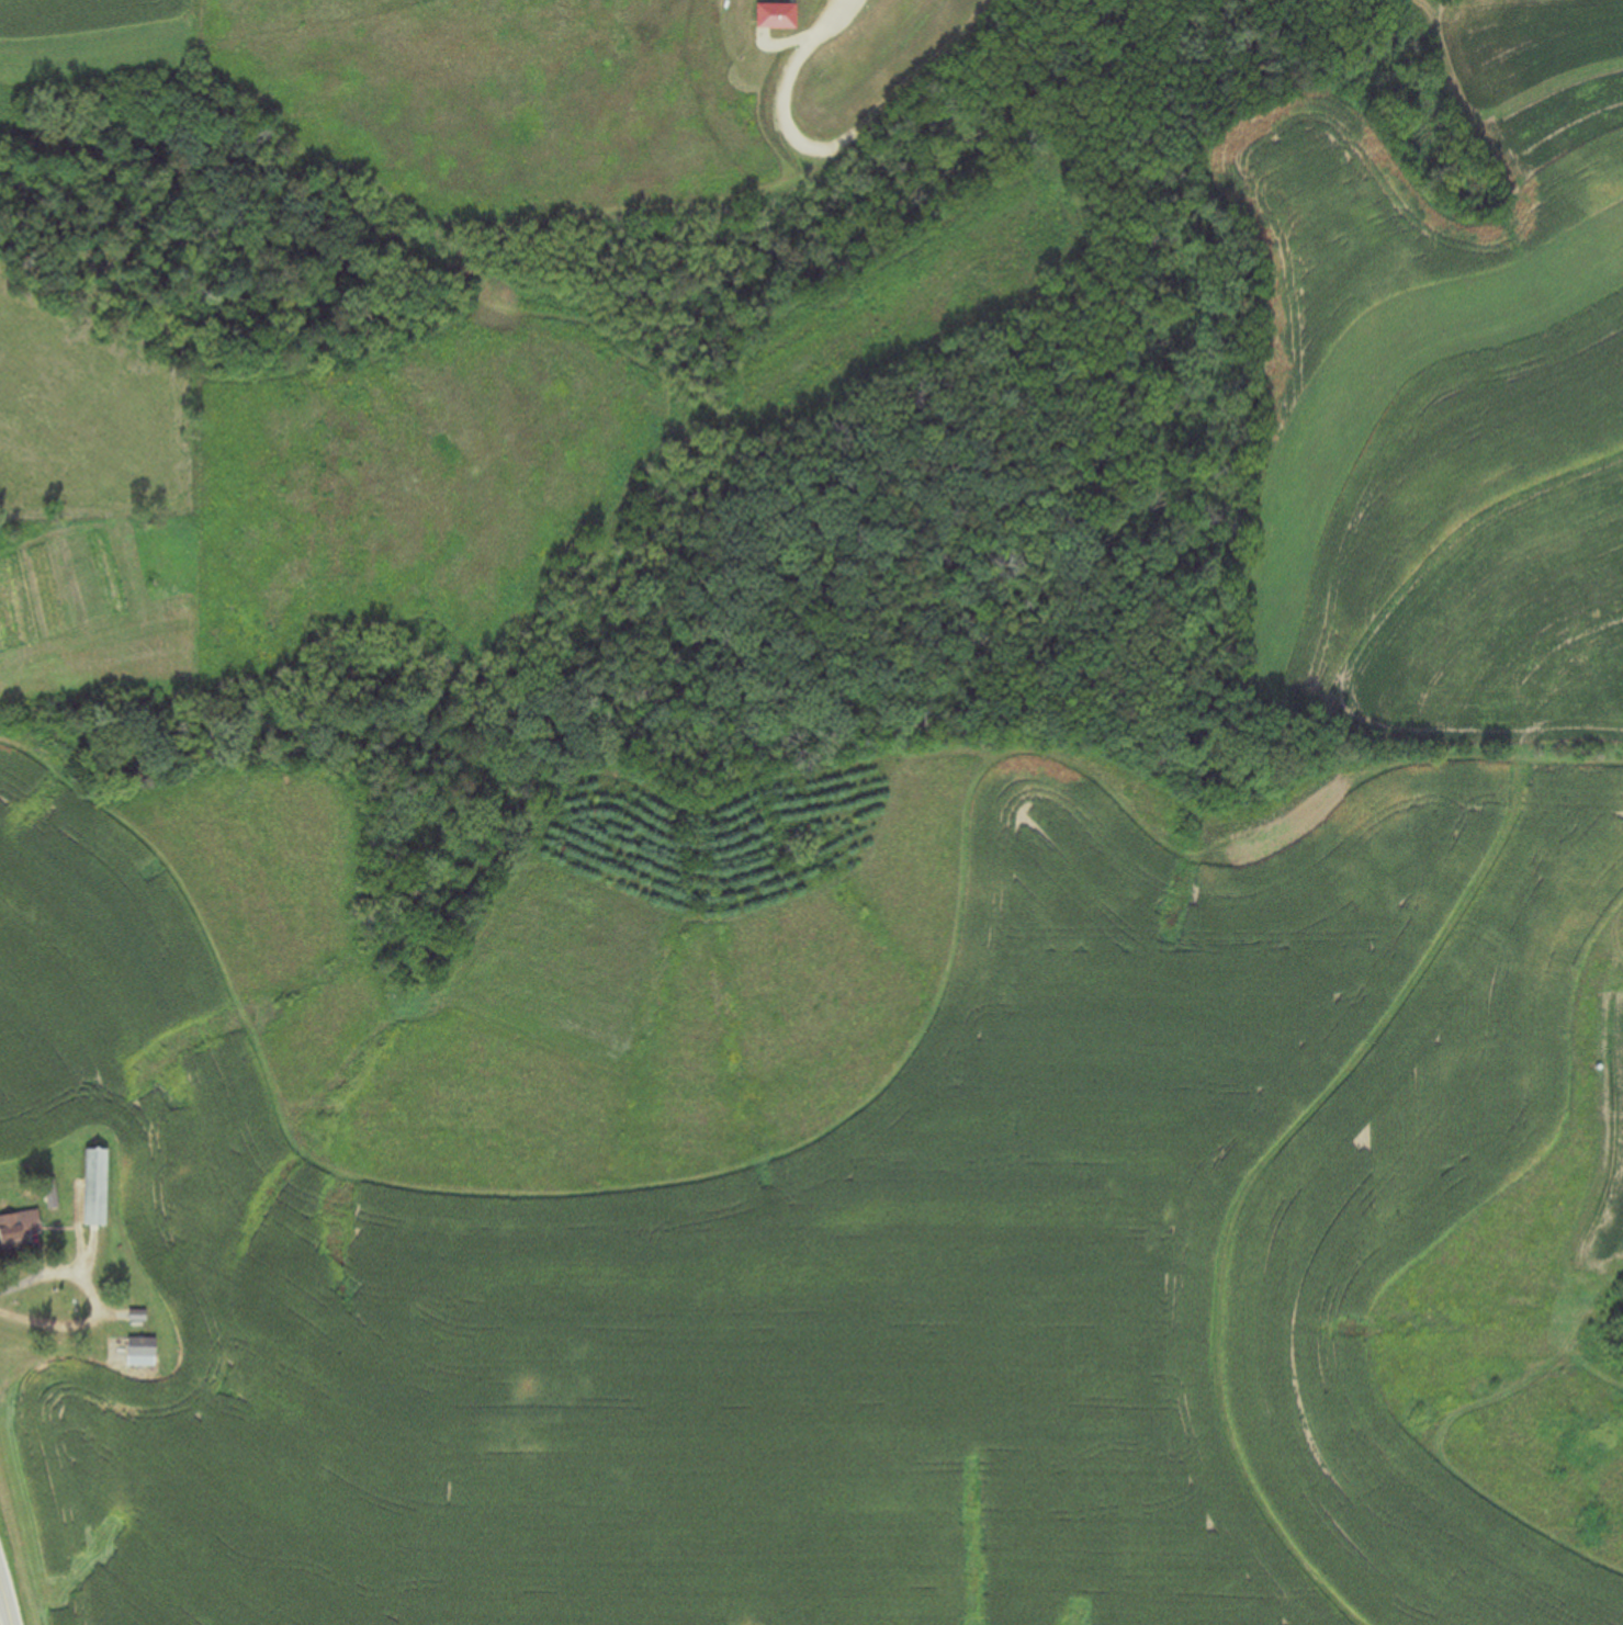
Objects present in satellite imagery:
building: (92, 1188)
building: (18, 1227)
building: (134, 1317)
building: (136, 1353)
road: (5, 1599)

